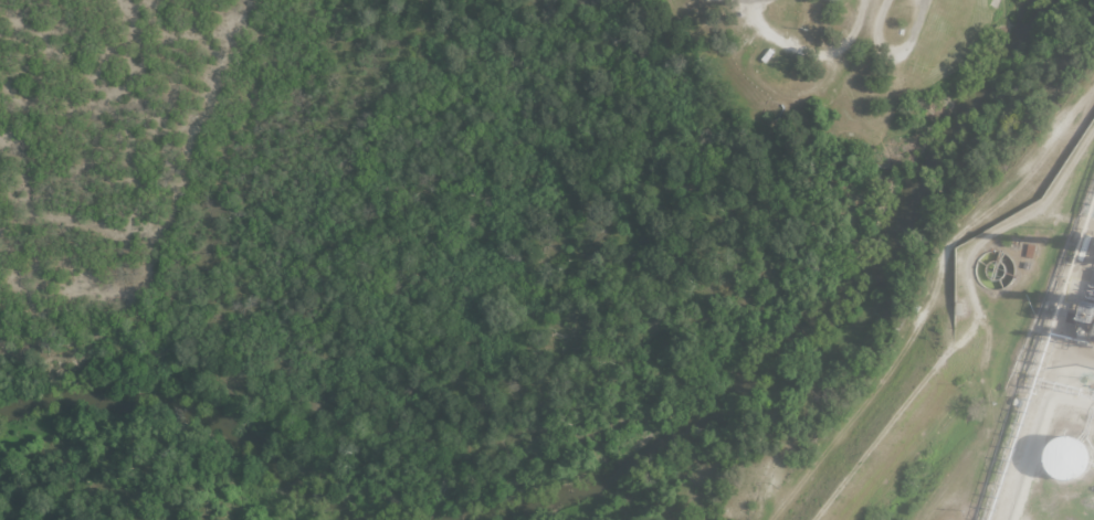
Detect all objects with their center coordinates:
road: (759, 3)
road: (808, 52)
road: (896, 55)
park: (840, 87)
building: (1080, 323)
river: (772, 327)
river: (166, 431)
building: (1066, 465)
storage tank: (1066, 465)

